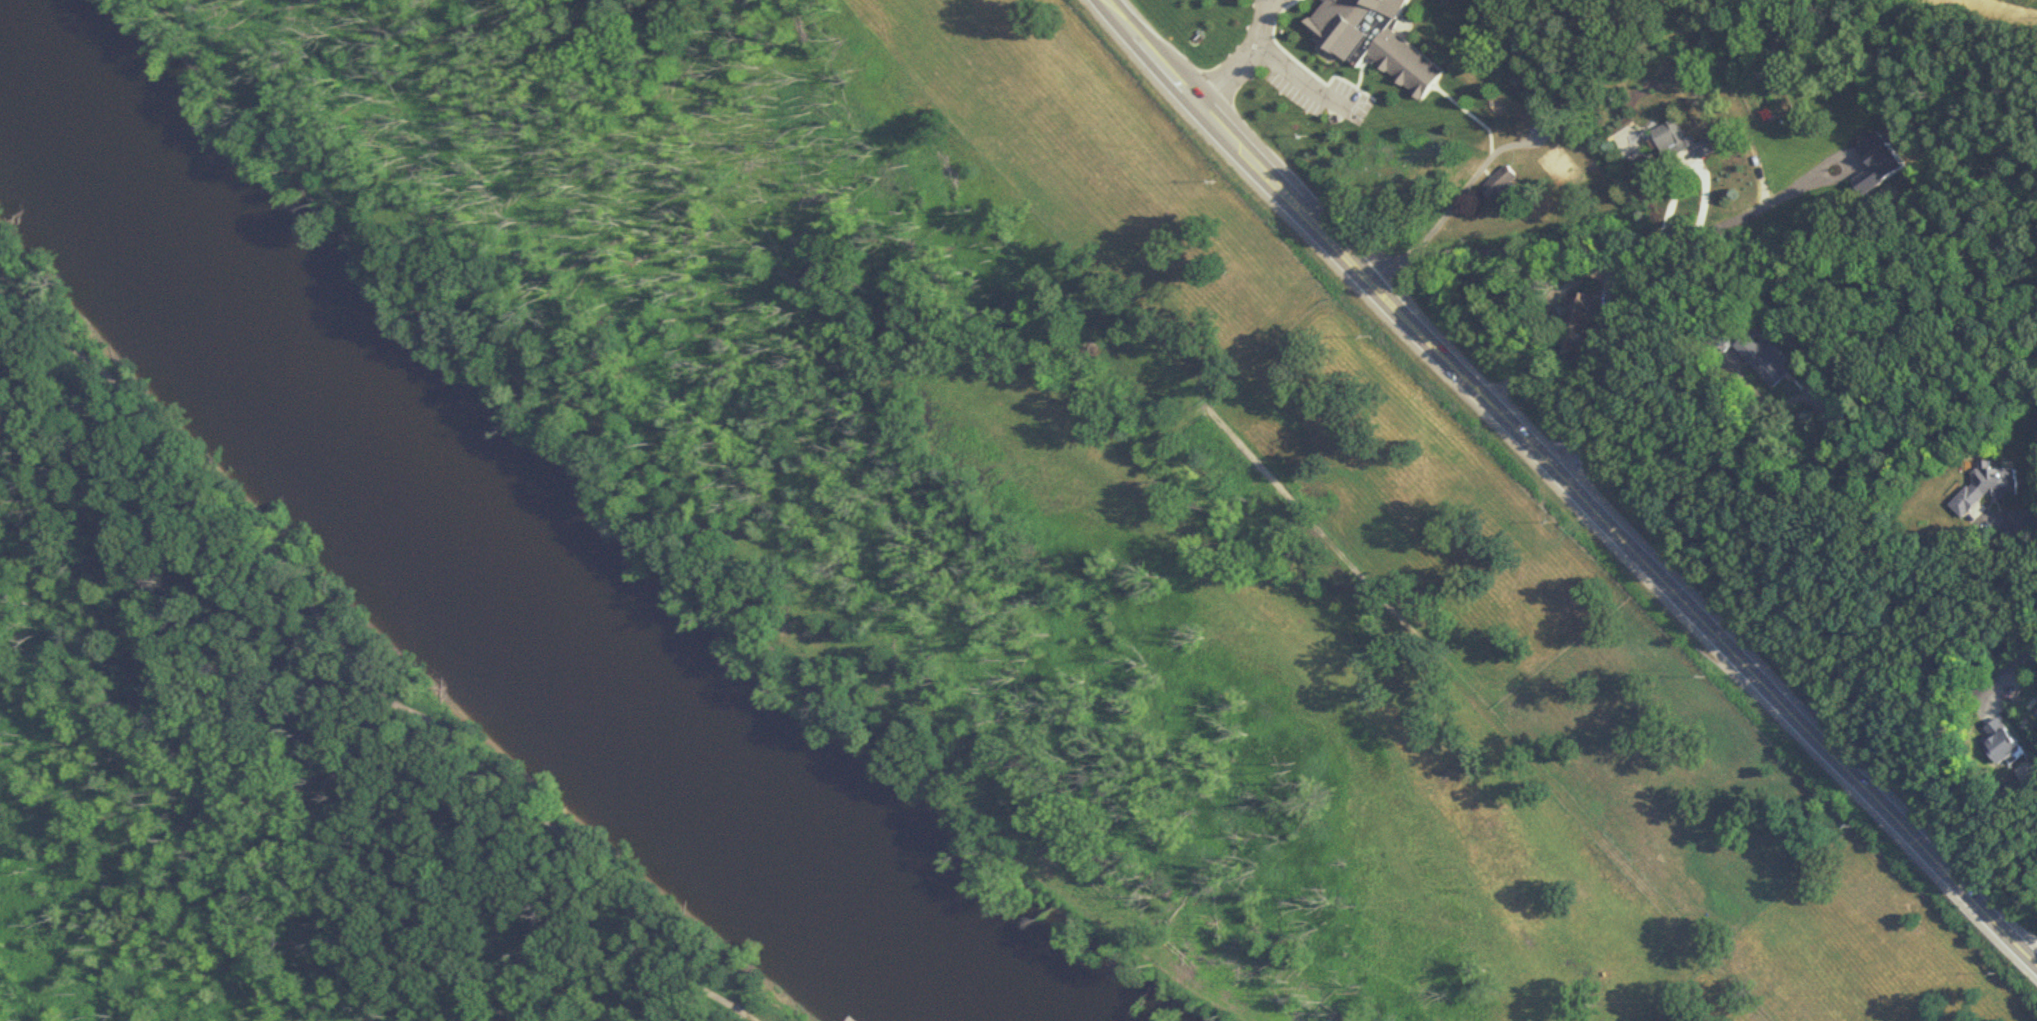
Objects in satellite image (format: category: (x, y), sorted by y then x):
building: (1369, 40)
road: (1237, 54)
road: (1289, 78)
building: (1522, 114)
building: (1671, 140)
building: (1764, 147)
road: (1757, 184)
building: (1500, 188)
road: (1293, 201)
road: (1446, 210)
road: (1531, 247)
park: (25, 277)
building: (1579, 329)
building: (1748, 351)
road: (1519, 354)
road: (1635, 426)
building: (1986, 485)
river: (487, 548)
road: (1913, 613)
road: (2027, 657)
road: (356, 659)
road: (1760, 681)
building: (1993, 742)
park: (272, 767)

